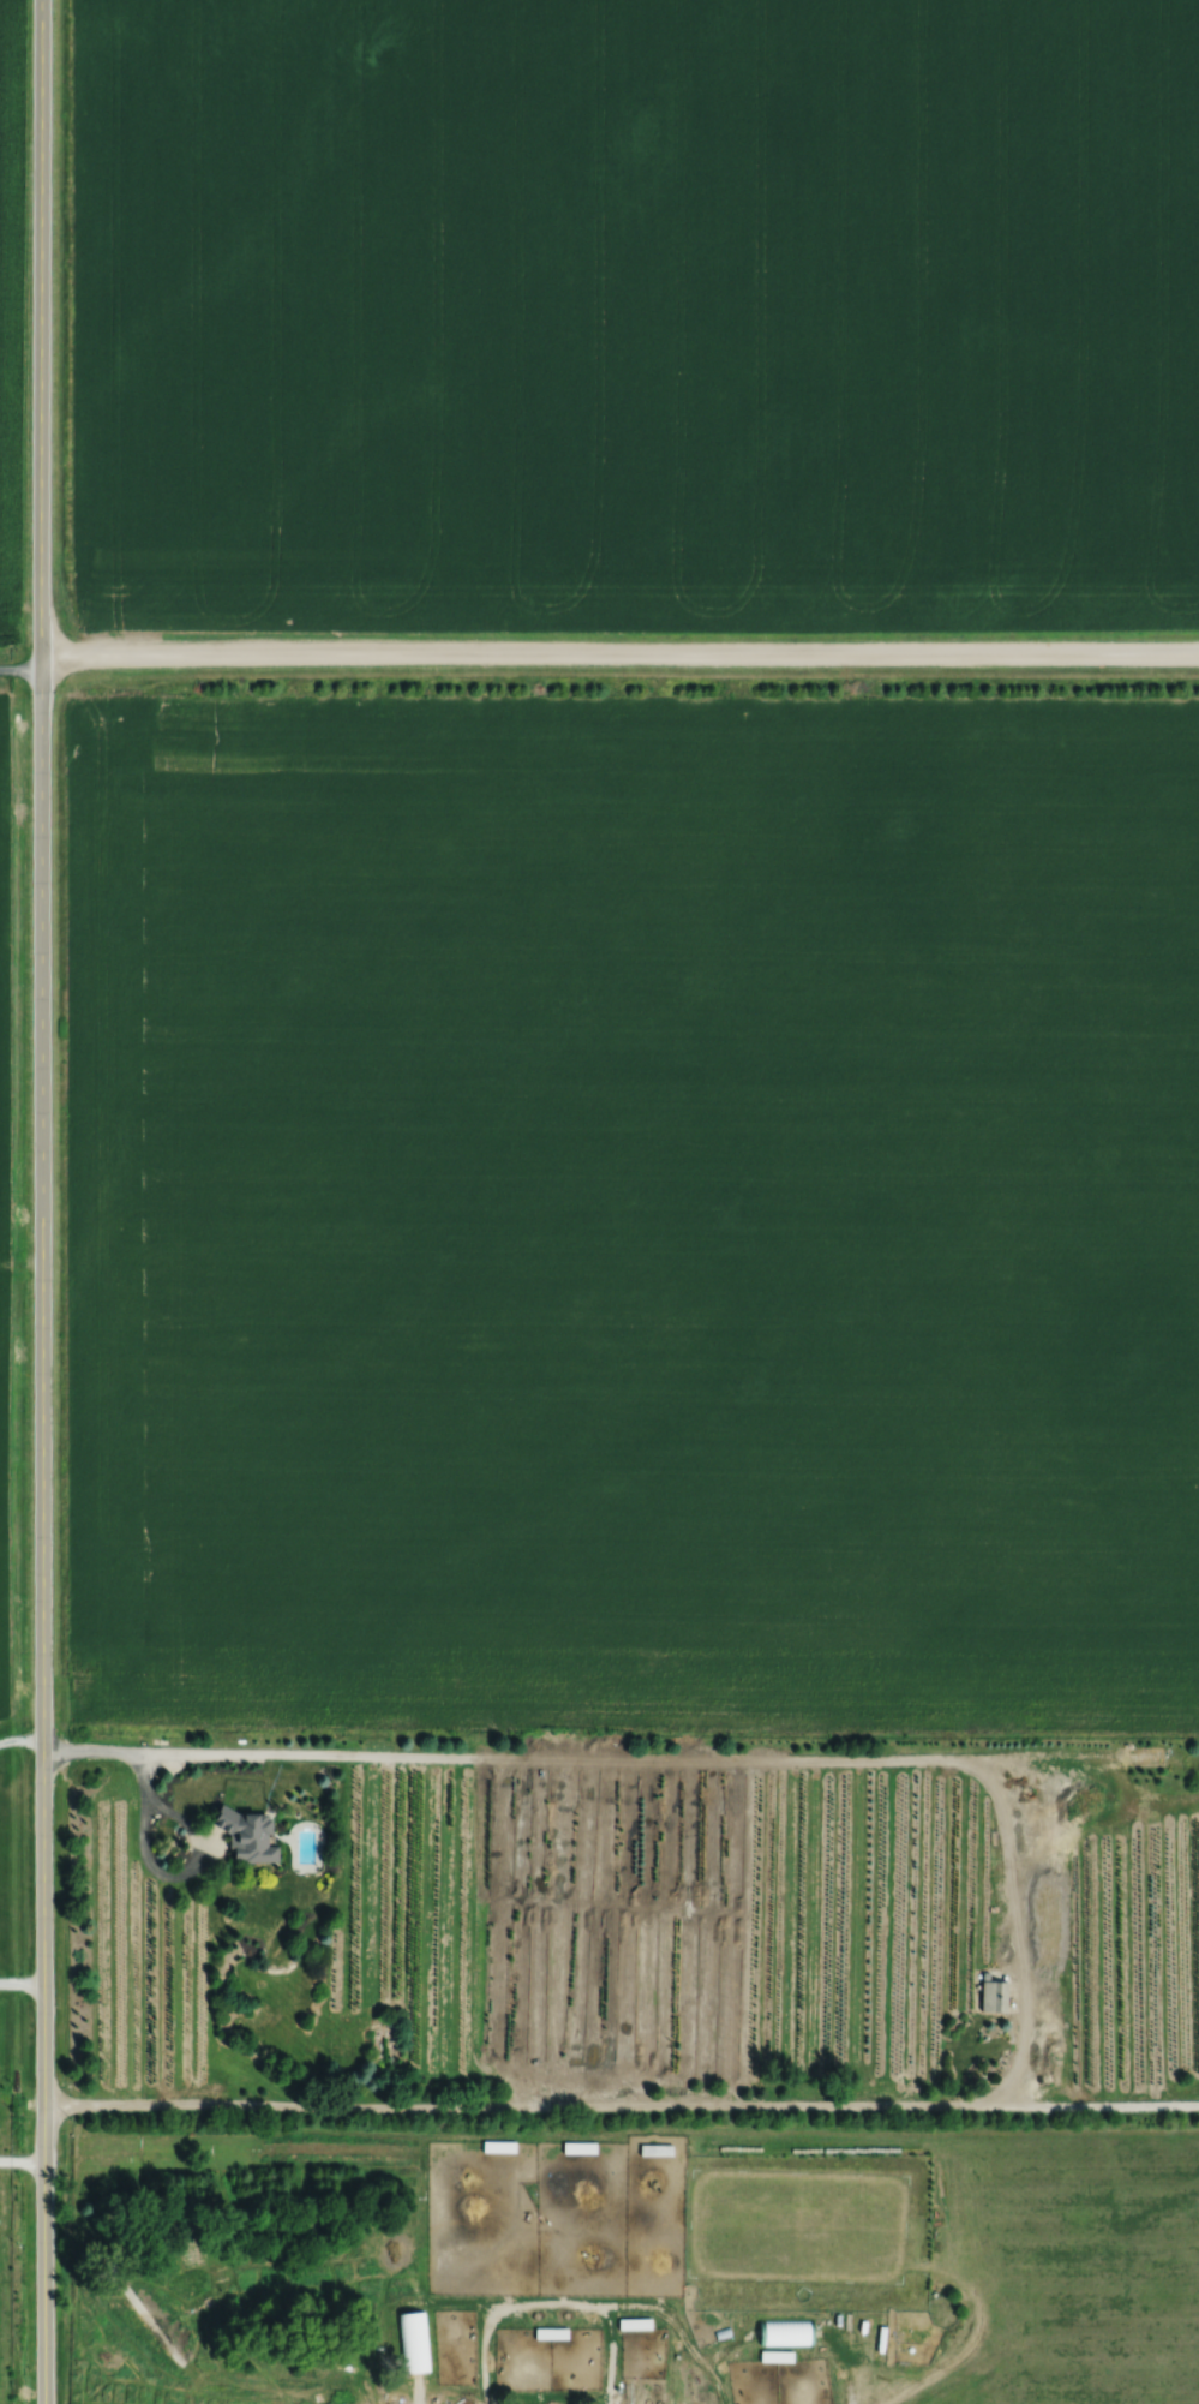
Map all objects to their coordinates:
road: (619, 652)
road: (20, 668)
road: (41, 1202)
road: (20, 1735)
road: (733, 1764)
building: (248, 1832)
road: (144, 1834)
road: (22, 1978)
building: (994, 1996)
road: (621, 2103)
road: (22, 2159)
building: (635, 2324)
building: (786, 2331)
building: (414, 2342)
building: (582, 2342)
building: (777, 2356)

